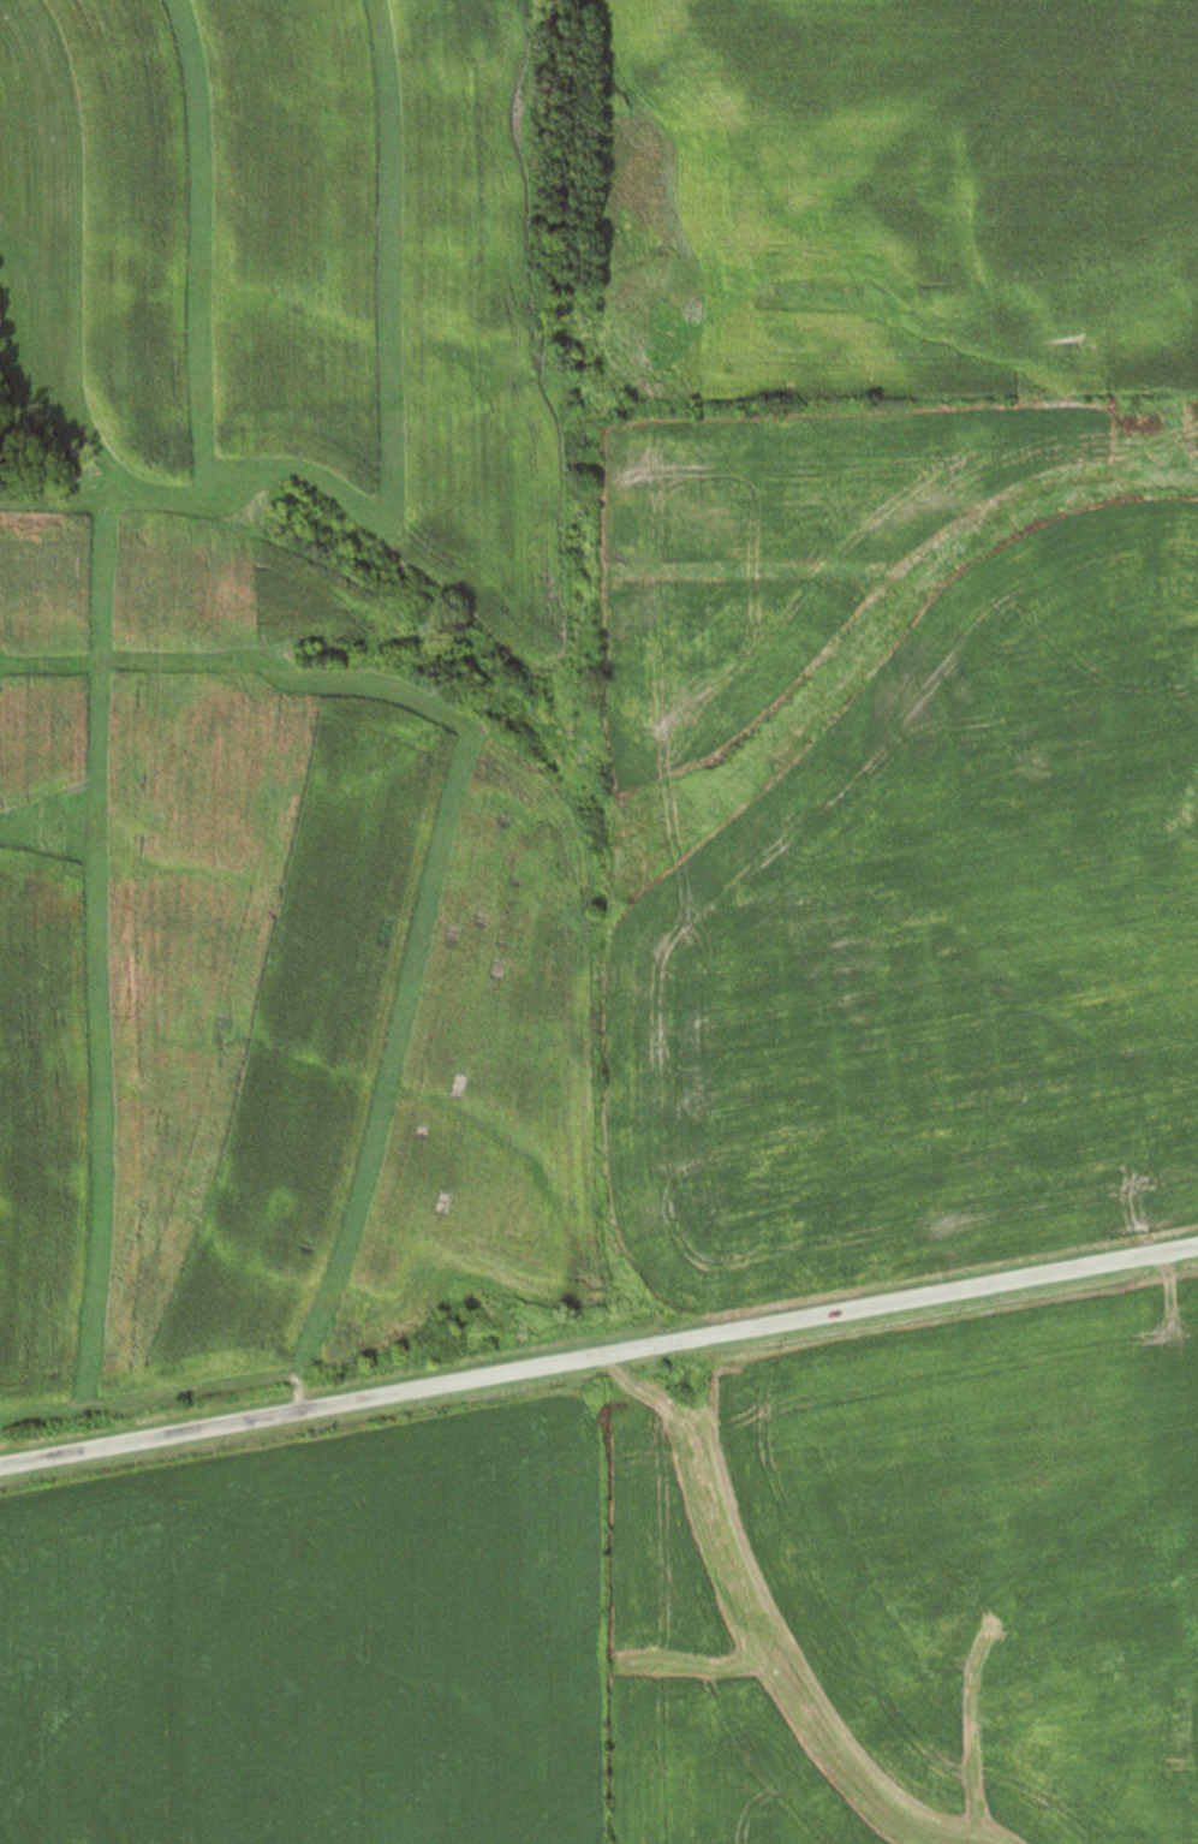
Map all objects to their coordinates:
road: (598, 1360)

